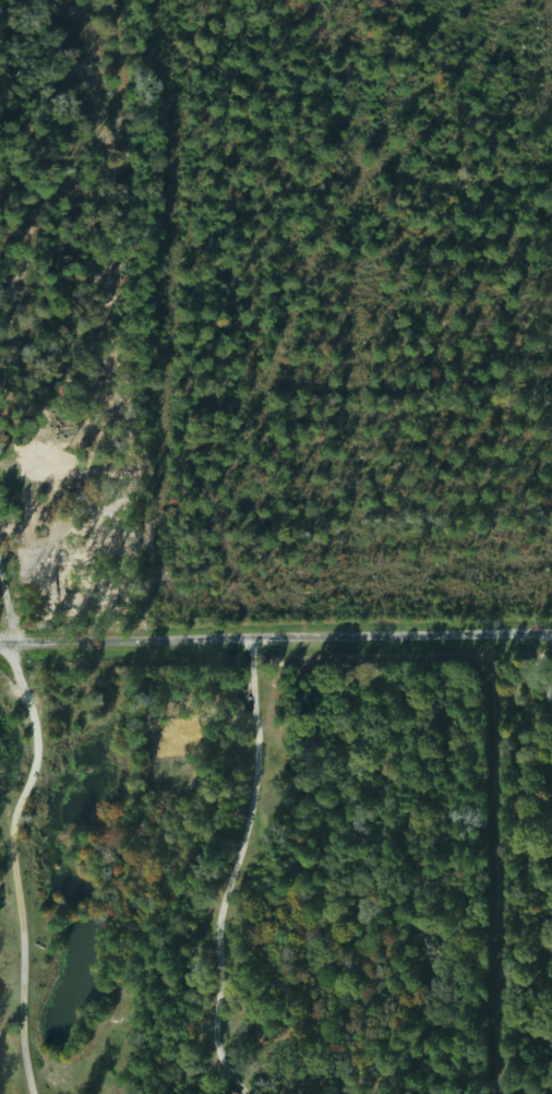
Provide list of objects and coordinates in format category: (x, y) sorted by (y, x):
road: (276, 647)
building: (549, 691)
road: (31, 817)
road: (247, 873)

